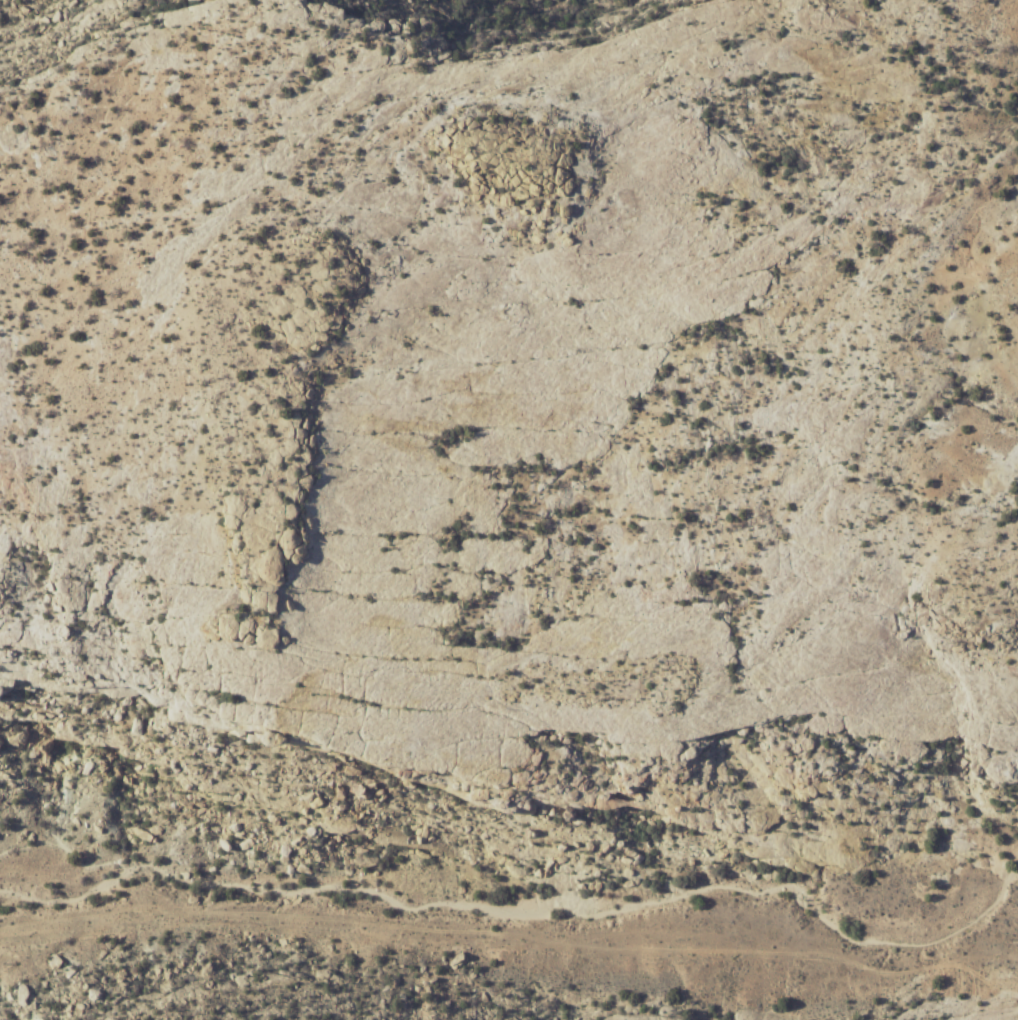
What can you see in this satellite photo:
building: (270, 740)

